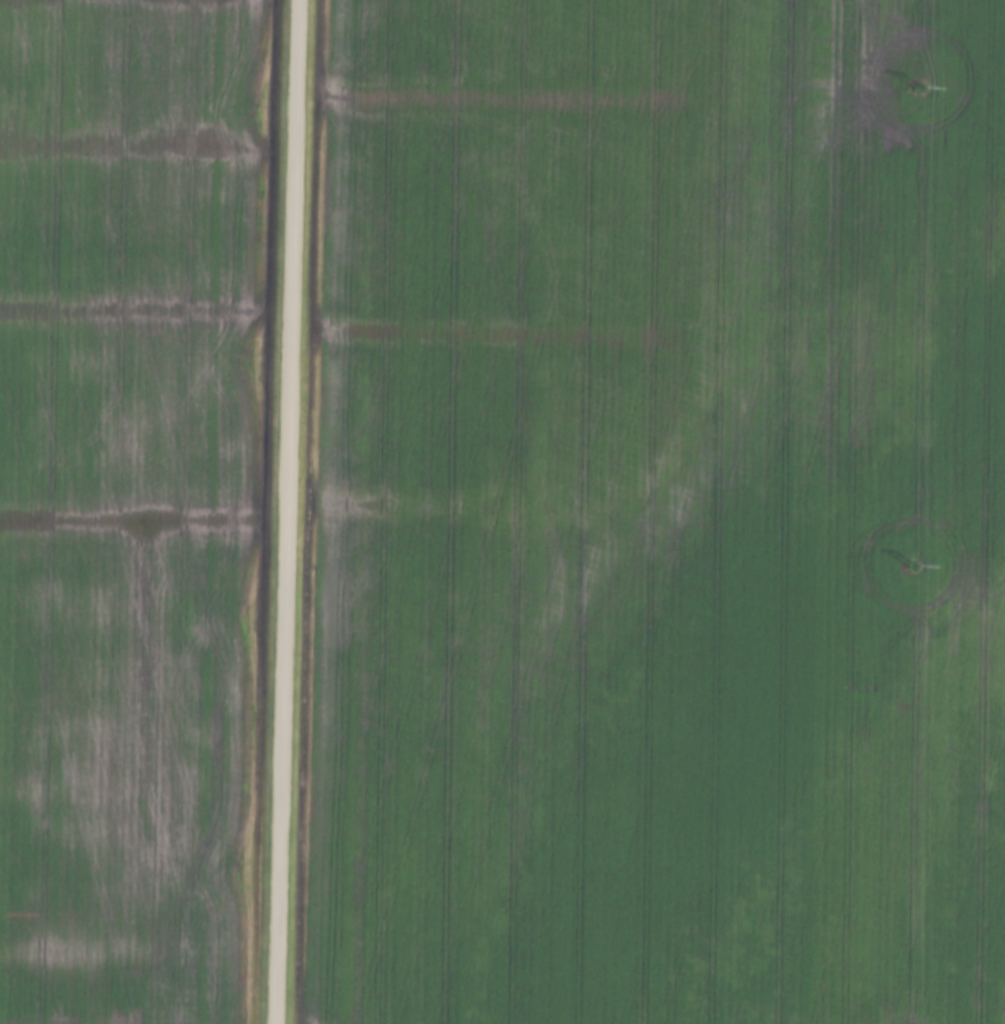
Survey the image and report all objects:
power tower: (917, 81)
crop: (121, 503)
road: (283, 512)
crop: (659, 515)
power tower: (913, 563)

